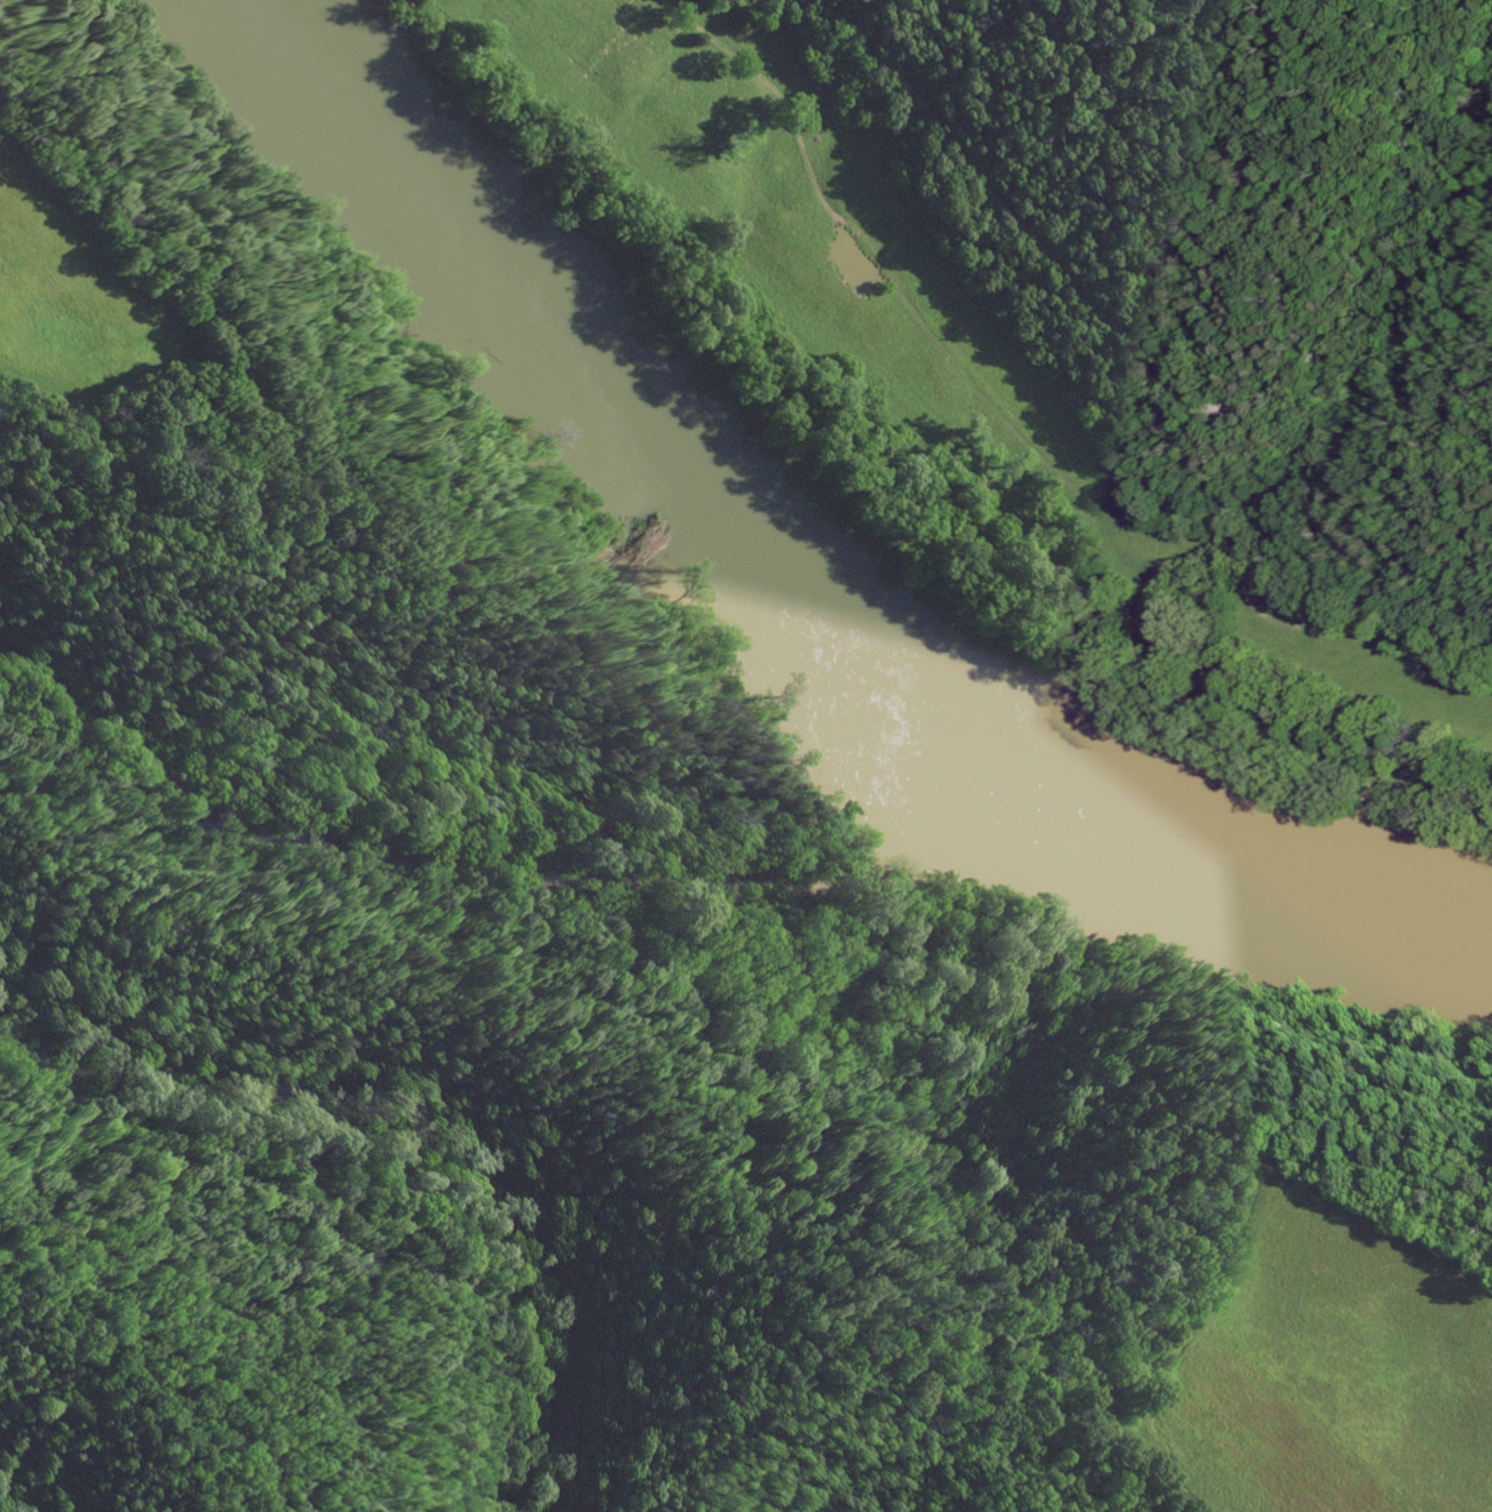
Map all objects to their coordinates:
road: (1169, 372)
river: (783, 583)

